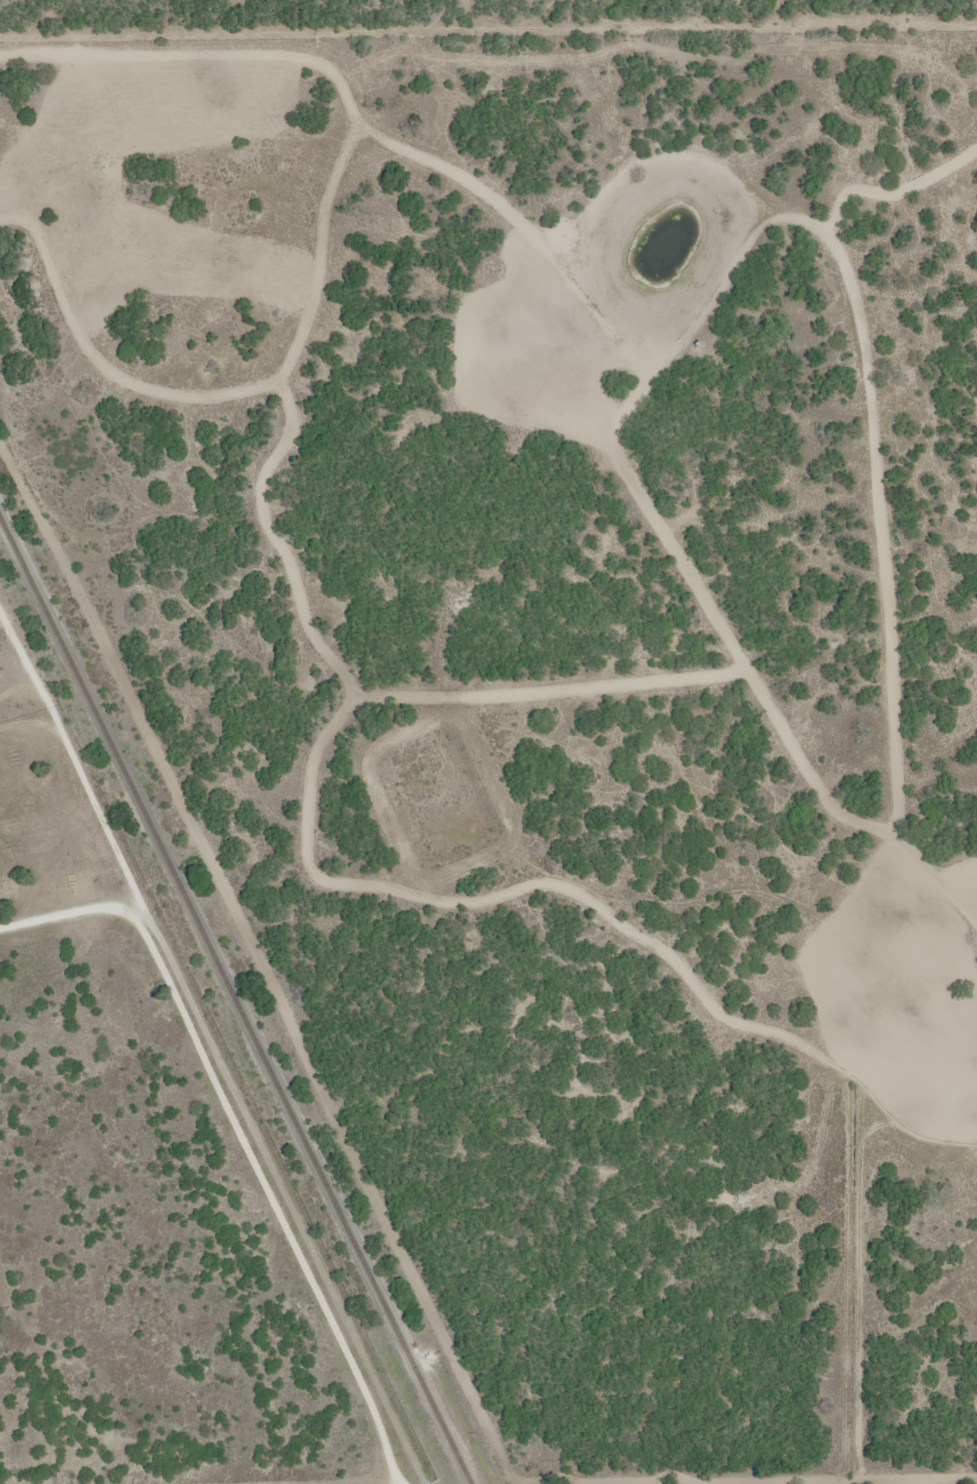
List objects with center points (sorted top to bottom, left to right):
road: (74, 760)
railway: (237, 999)
road: (254, 1130)
road: (84, 1346)

